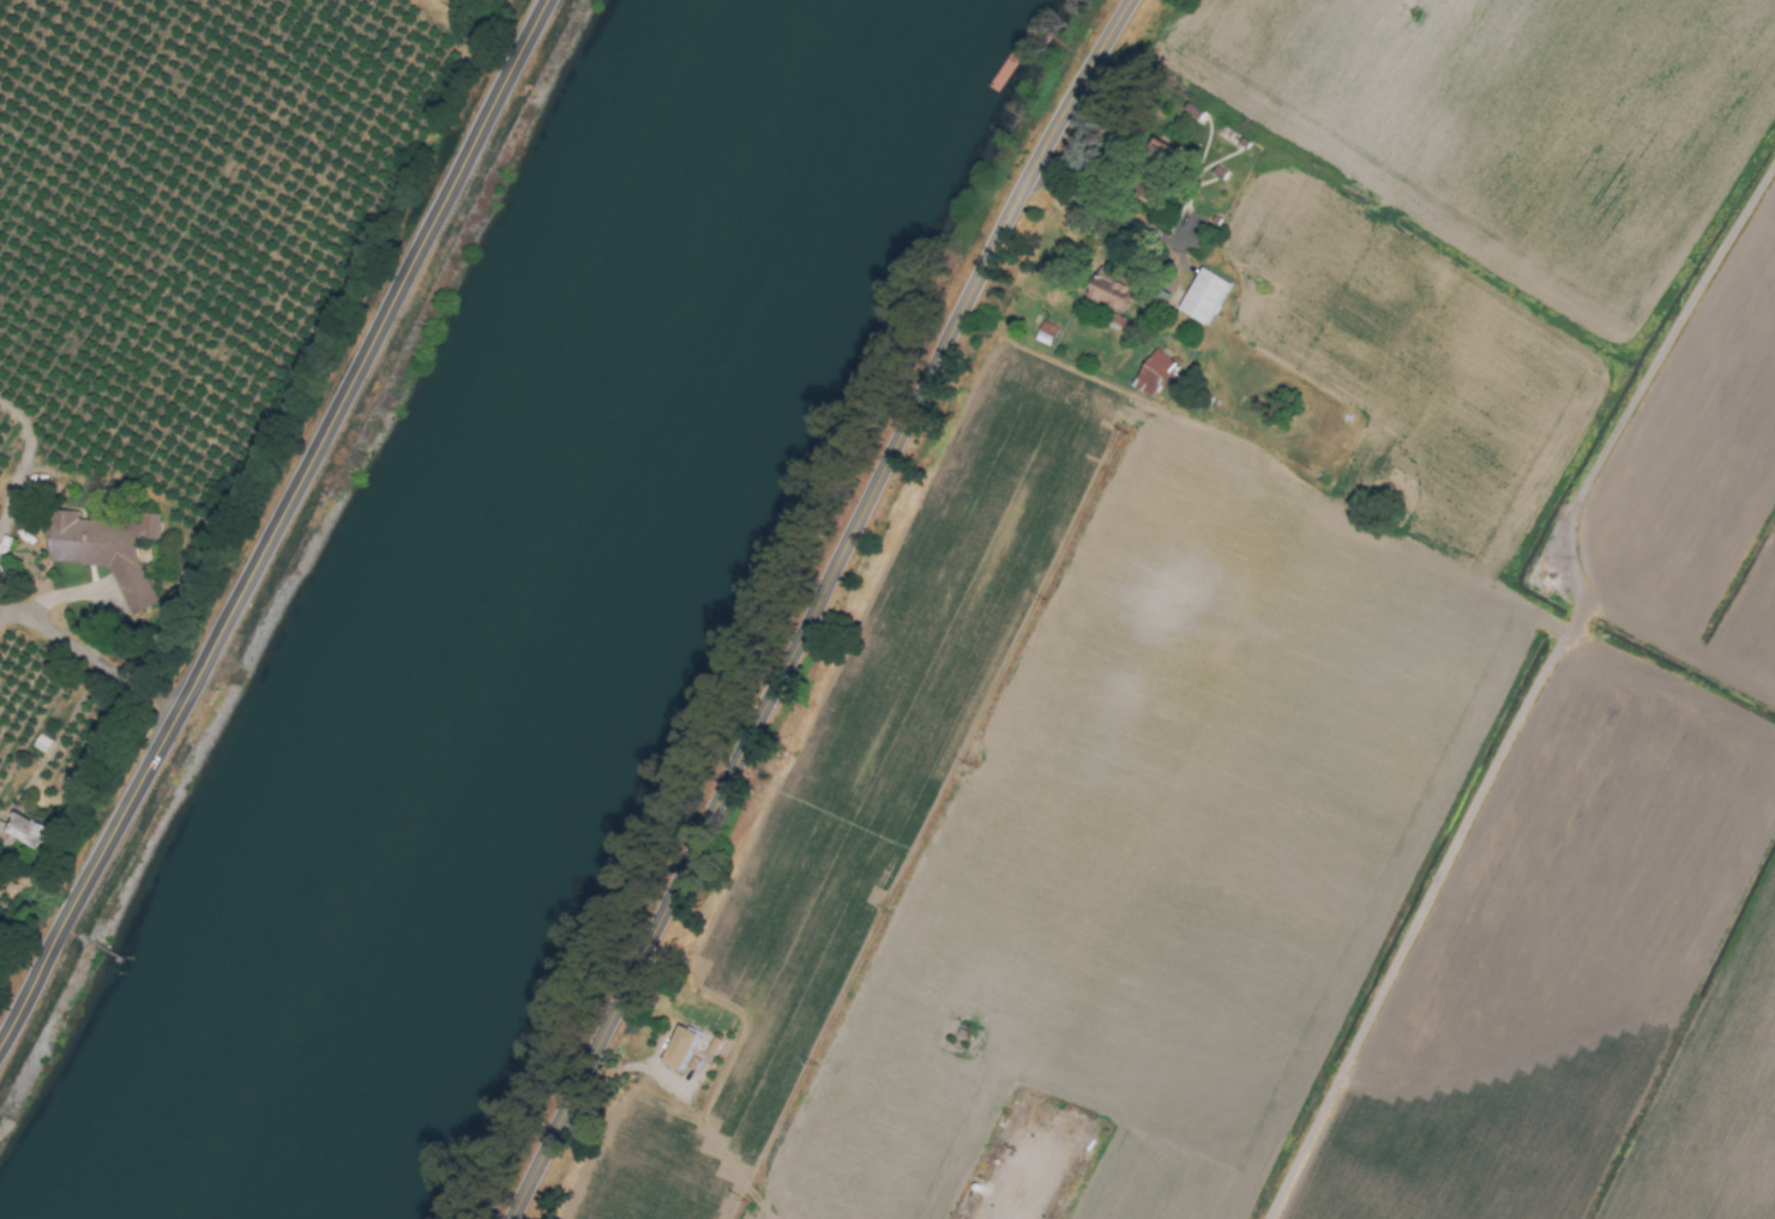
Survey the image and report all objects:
road: (1107, 210)
building: (1106, 294)
building: (1202, 297)
crop: (189, 334)
building: (1150, 374)
road: (284, 530)
building: (103, 551)
river: (507, 605)
road: (825, 608)
road: (16, 617)
road: (77, 650)
crop: (1275, 675)
road: (1536, 695)
building: (41, 744)
building: (0, 825)
building: (23, 832)
building: (711, 1046)
building: (675, 1048)
road: (722, 1151)

